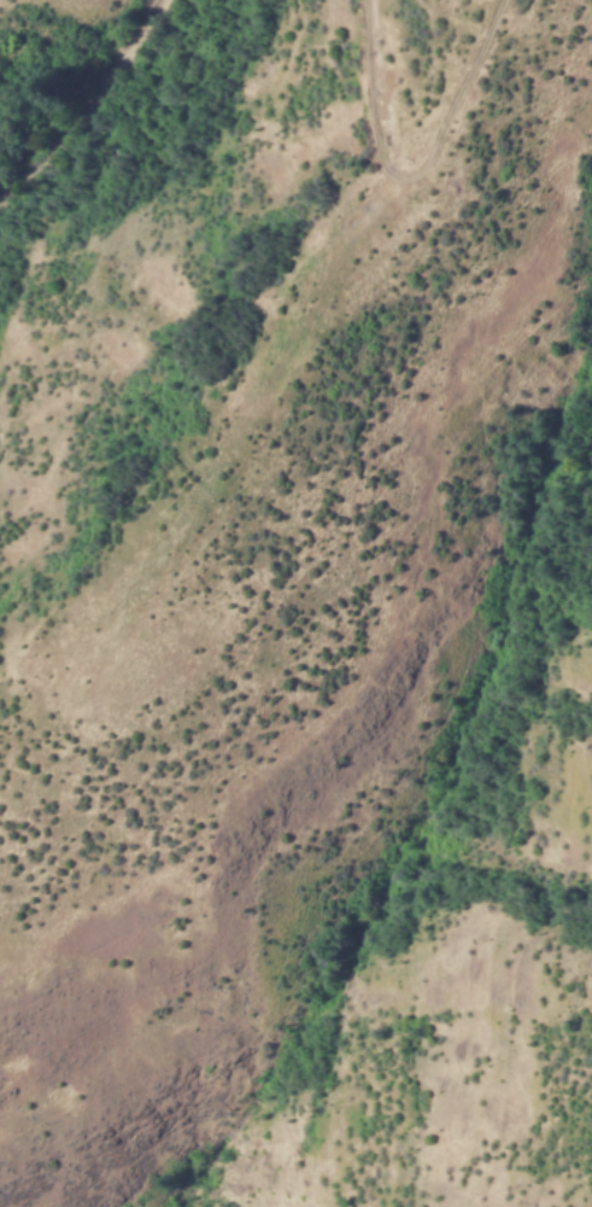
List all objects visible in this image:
road: (74, 78)
road: (429, 188)

